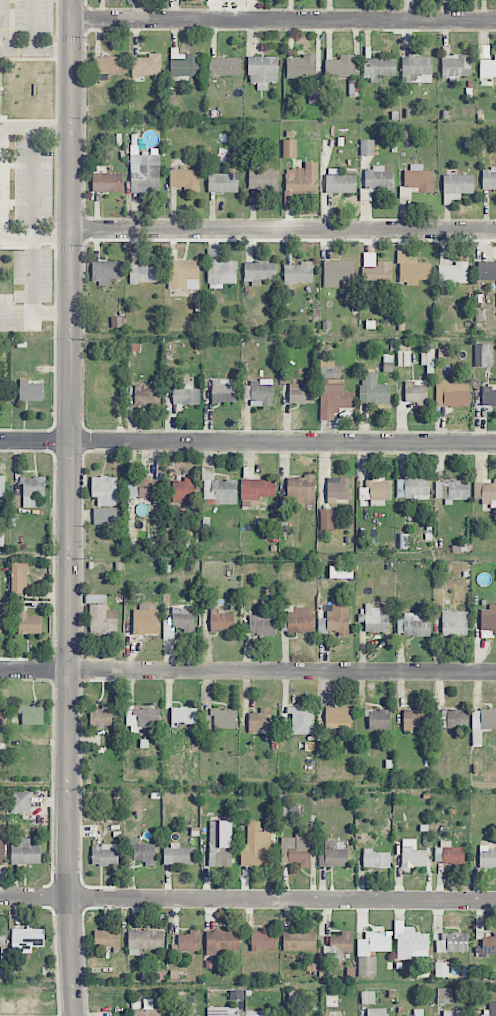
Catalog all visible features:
road: (284, 19)
road: (33, 25)
road: (2, 36)
road: (53, 52)
building: (184, 63)
building: (147, 65)
building: (108, 66)
building: (224, 66)
building: (300, 66)
building: (340, 66)
building: (455, 66)
building: (488, 67)
building: (378, 68)
building: (416, 70)
building: (263, 71)
building: (13, 81)
building: (315, 96)
building: (367, 147)
building: (289, 148)
building: (145, 174)
building: (185, 179)
building: (262, 179)
building: (489, 179)
building: (417, 180)
building: (301, 181)
building: (339, 181)
building: (107, 182)
building: (376, 182)
building: (222, 183)
building: (456, 186)
road: (31, 200)
road: (284, 230)
road: (52, 233)
building: (220, 267)
building: (412, 270)
building: (486, 270)
building: (106, 271)
building: (259, 271)
building: (144, 272)
building: (298, 272)
building: (337, 272)
building: (377, 273)
building: (453, 273)
building: (183, 274)
road: (35, 316)
building: (483, 355)
building: (404, 358)
building: (373, 389)
building: (223, 390)
building: (29, 391)
building: (333, 392)
building: (185, 393)
building: (416, 393)
building: (258, 394)
building: (300, 394)
building: (452, 394)
building: (489, 395)
building: (147, 396)
road: (247, 440)
building: (2, 487)
building: (412, 488)
building: (144, 489)
building: (337, 489)
building: (32, 490)
building: (104, 490)
building: (183, 490)
building: (219, 490)
building: (301, 490)
building: (375, 490)
building: (451, 490)
building: (256, 491)
building: (486, 493)
road: (70, 508)
building: (105, 515)
building: (326, 519)
building: (340, 572)
building: (19, 578)
building: (101, 615)
building: (0, 617)
building: (375, 618)
building: (300, 619)
building: (145, 620)
building: (183, 620)
building: (221, 620)
building: (335, 620)
building: (488, 621)
building: (29, 623)
building: (454, 623)
building: (261, 624)
building: (412, 625)
road: (248, 669)
building: (31, 714)
building: (183, 715)
building: (301, 715)
building: (101, 716)
building: (1, 717)
building: (338, 717)
building: (141, 718)
building: (378, 718)
building: (414, 718)
building: (453, 718)
building: (219, 719)
building: (259, 720)
building: (481, 723)
building: (21, 801)
building: (220, 843)
building: (256, 846)
building: (296, 849)
building: (2, 851)
building: (24, 852)
building: (143, 852)
building: (334, 854)
building: (412, 854)
building: (450, 854)
building: (105, 855)
building: (178, 855)
building: (487, 857)
building: (375, 859)
road: (248, 898)
building: (2, 936)
building: (27, 937)
building: (106, 938)
building: (145, 940)
building: (263, 940)
building: (189, 941)
building: (222, 941)
building: (299, 941)
building: (452, 941)
building: (412, 943)
building: (489, 944)
building: (338, 945)
building: (371, 951)
building: (441, 969)
building: (445, 995)
park: (27, 998)
building: (368, 998)
building: (489, 1010)
building: (149, 1012)
building: (233, 1012)
building: (378, 1012)
building: (454, 1012)
building: (416, 1013)

